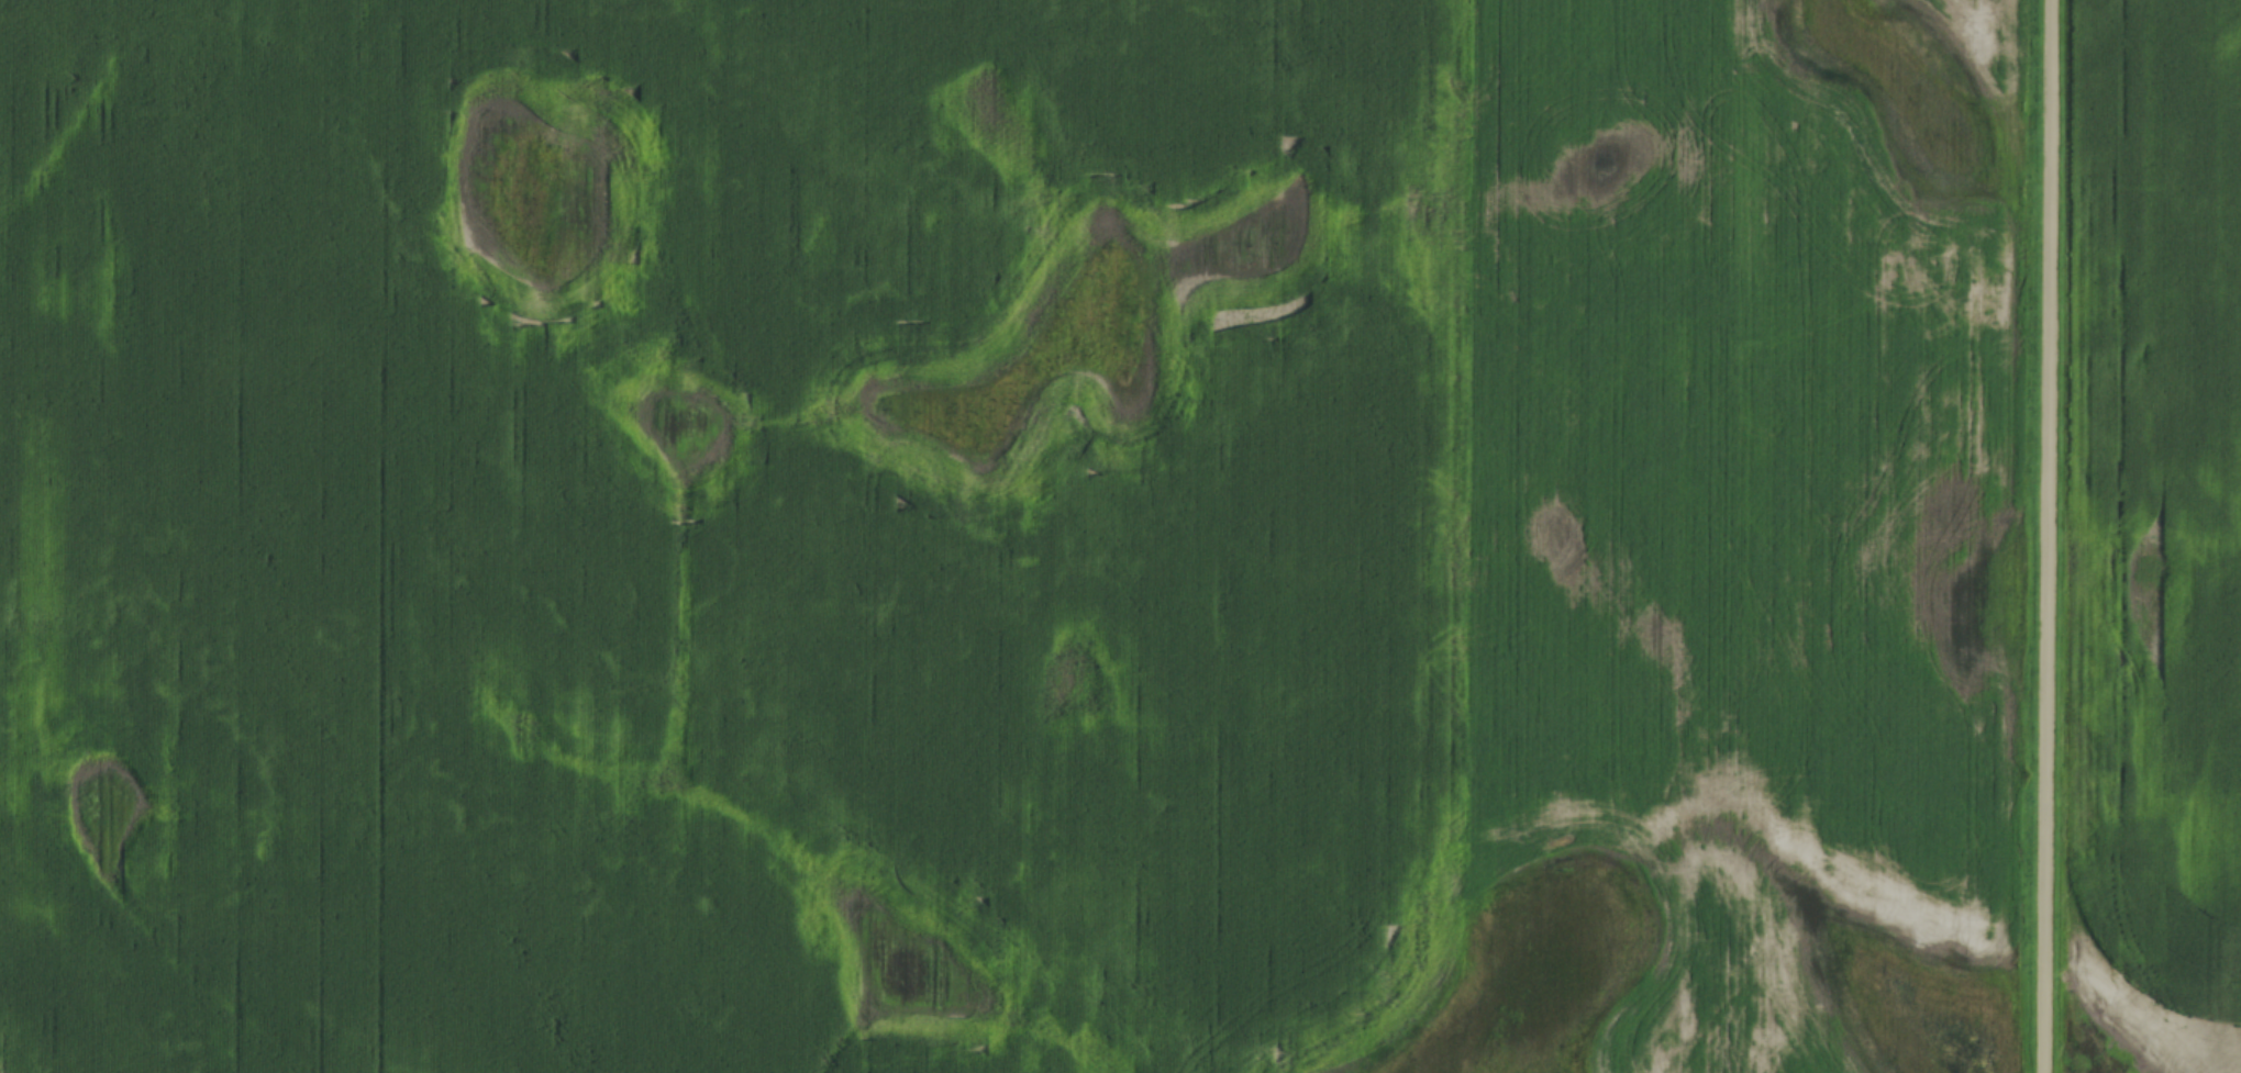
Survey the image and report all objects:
road: (2048, 536)

